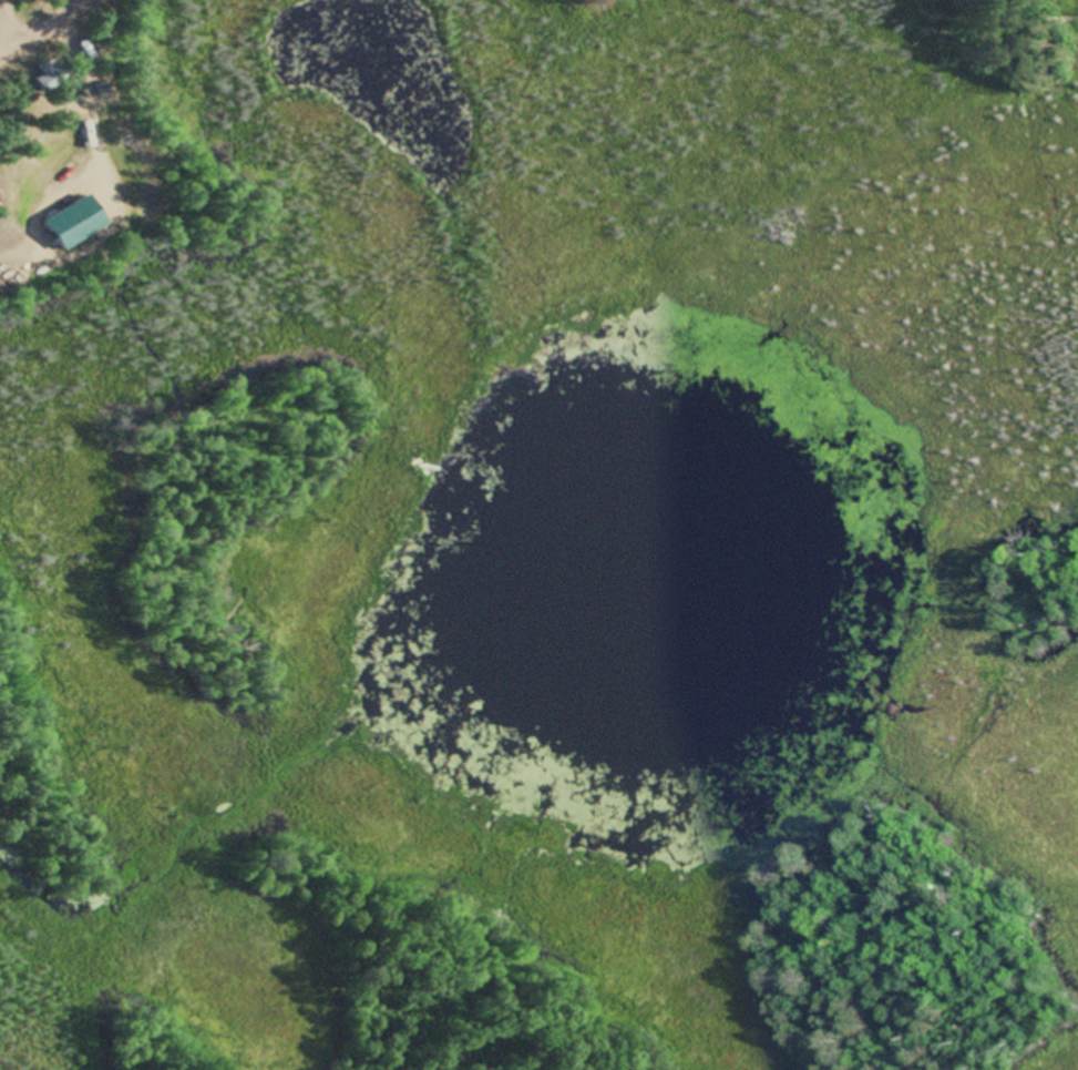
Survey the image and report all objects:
road: (6, 29)
road: (42, 34)
building: (53, 77)

